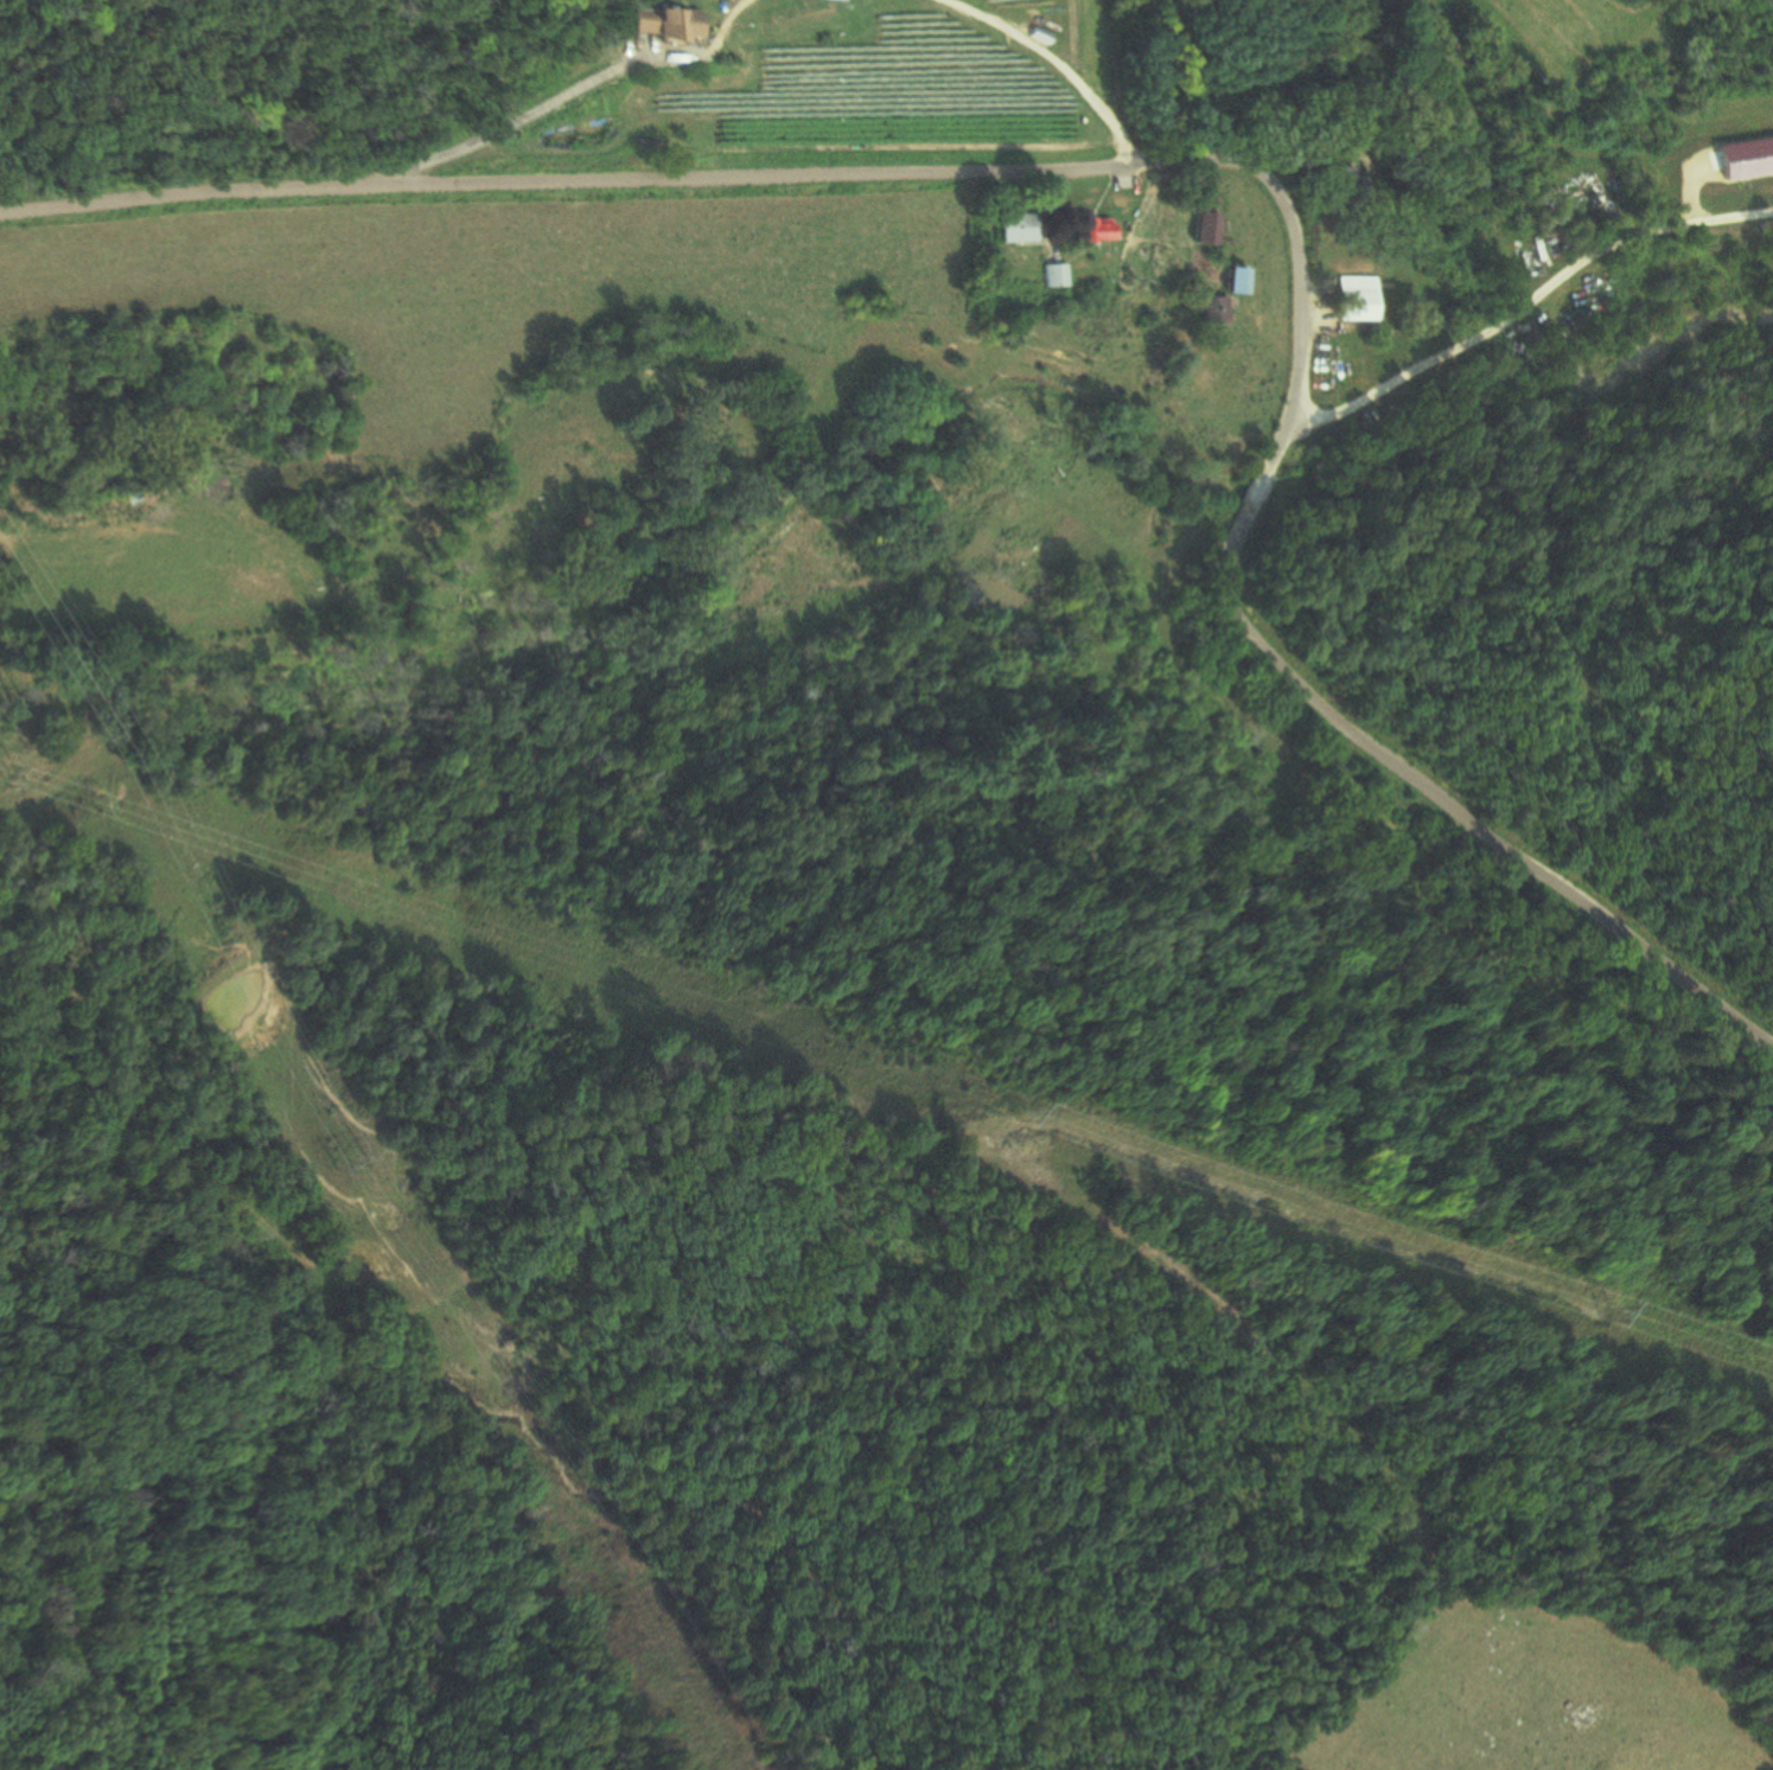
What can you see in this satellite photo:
road: (1060, 63)
road: (557, 95)
road: (1494, 154)
road: (1212, 156)
road: (1523, 303)
power tower: (8, 775)
power tower: (355, 1163)
power tower: (1602, 1316)

